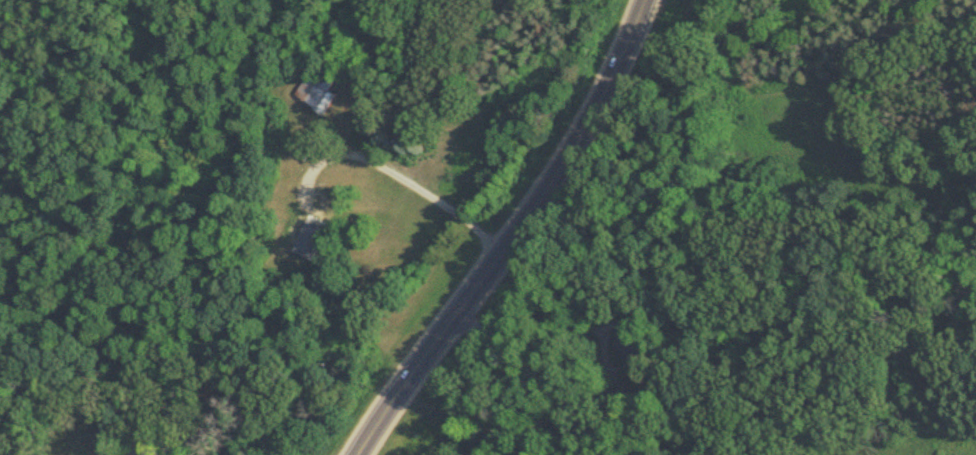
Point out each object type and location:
building: (317, 88)
road: (582, 133)
road: (390, 178)
building: (310, 239)
road: (608, 316)
building: (626, 344)
road: (426, 353)
building: (178, 401)
road: (190, 435)
building: (487, 441)

